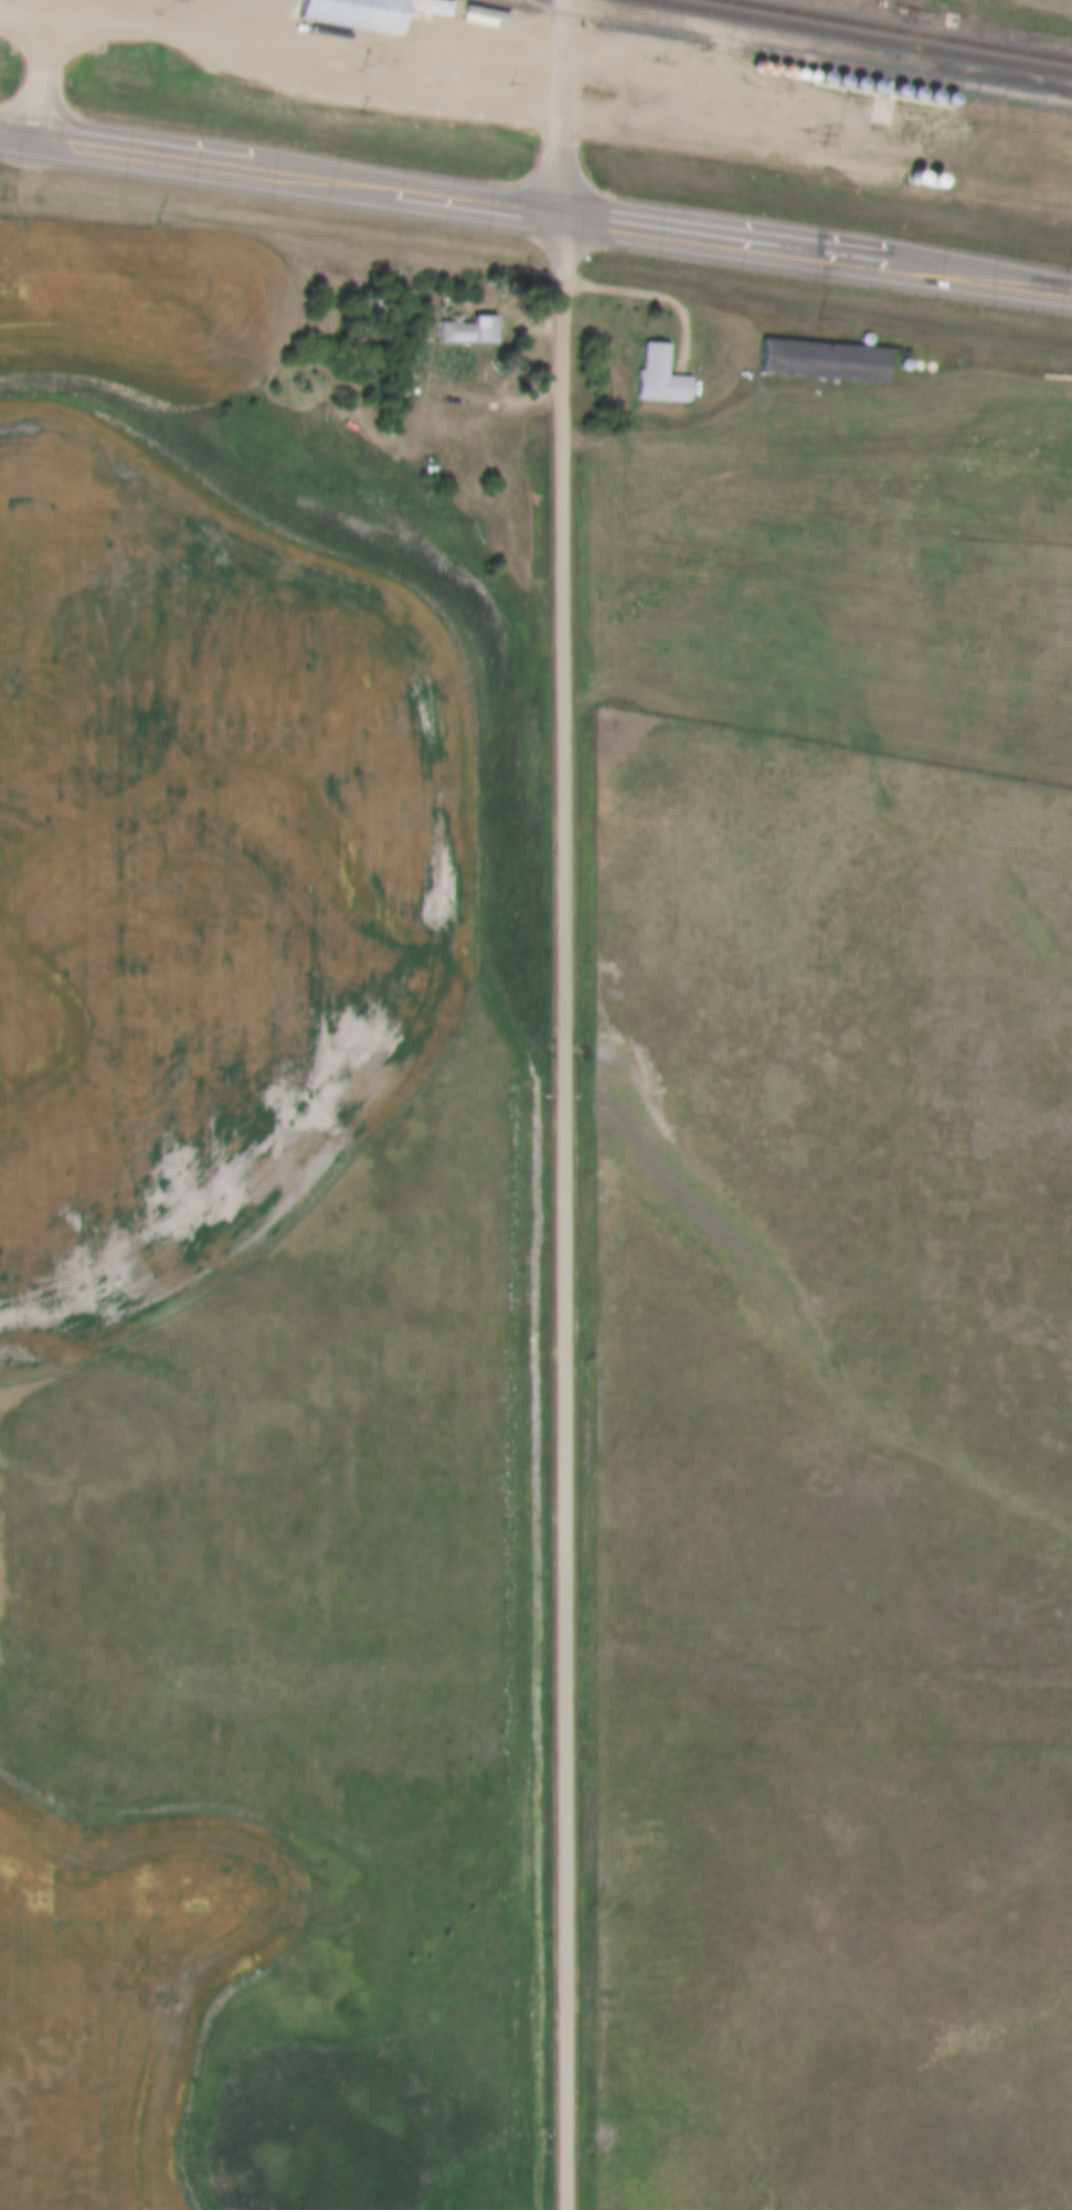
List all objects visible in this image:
road: (1058, 2)
building: (352, 14)
railway: (900, 28)
railway: (853, 38)
railway: (776, 51)
road: (42, 75)
road: (363, 92)
road: (562, 108)
building: (641, 132)
silo: (641, 132)
building: (657, 136)
silo: (657, 136)
building: (672, 138)
silo: (672, 138)
building: (688, 140)
silo: (688, 140)
building: (703, 142)
silo: (703, 142)
building: (719, 146)
silo: (719, 146)
road: (535, 214)
road: (652, 295)
building: (466, 331)
building: (864, 340)
silo: (864, 340)
building: (819, 362)
building: (466, 365)
building: (904, 366)
silo: (904, 366)
building: (658, 378)
road: (566, 1213)

